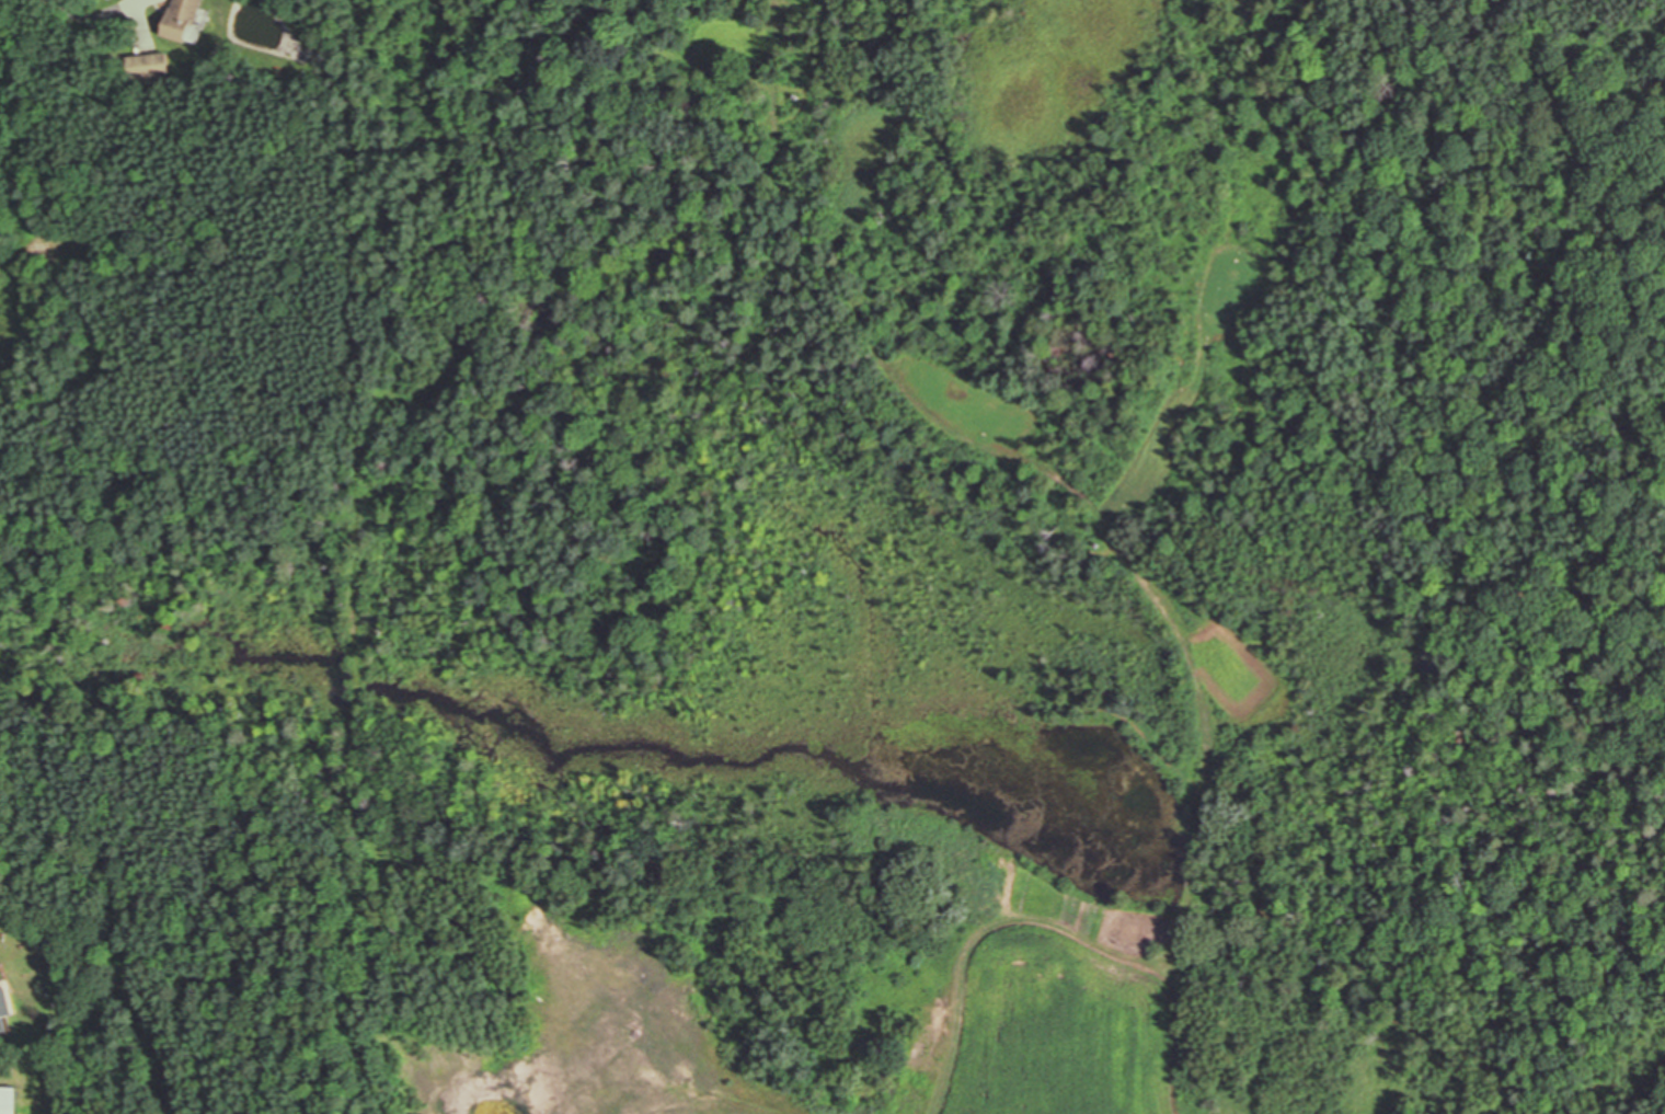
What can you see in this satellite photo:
building: (188, 20)
building: (152, 67)
building: (10, 1004)
building: (10, 1100)

